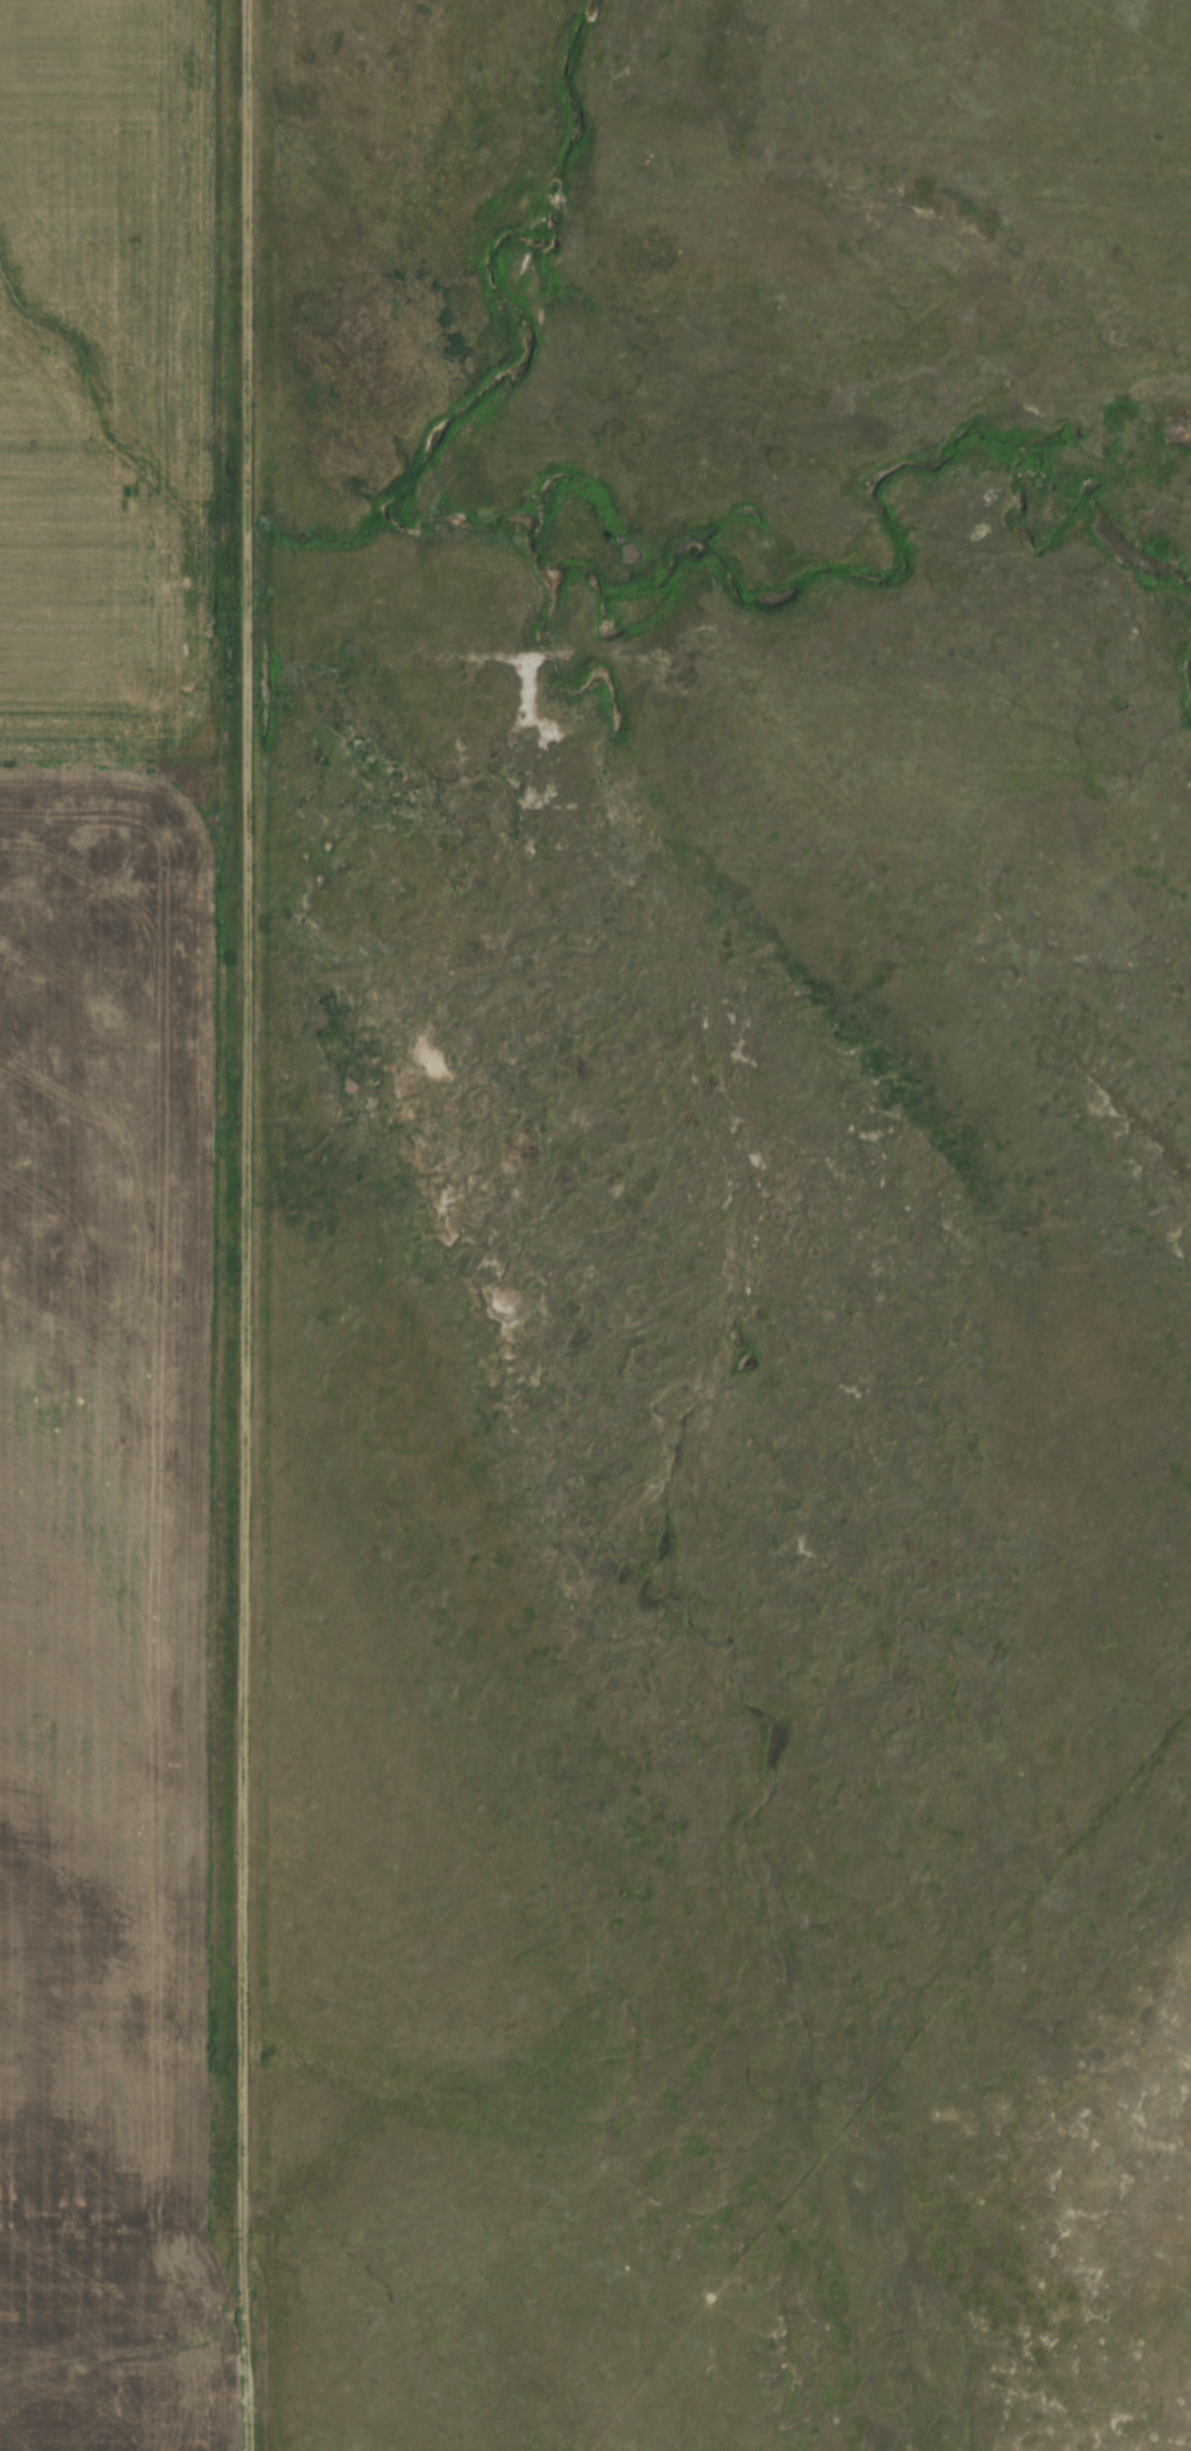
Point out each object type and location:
road: (231, 1283)

